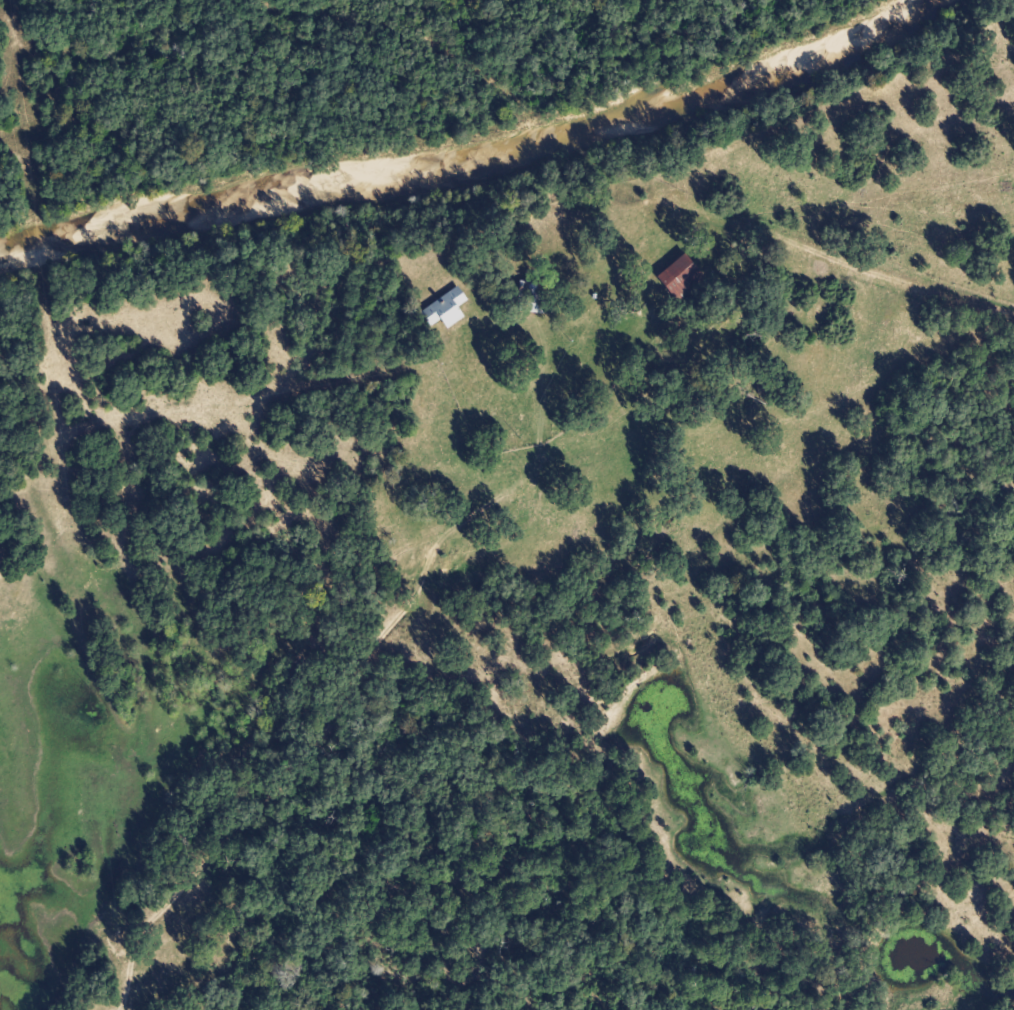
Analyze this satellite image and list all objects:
road: (293, 4)
road: (427, 32)
road: (791, 239)
building: (680, 276)
building: (531, 295)
building: (445, 307)

